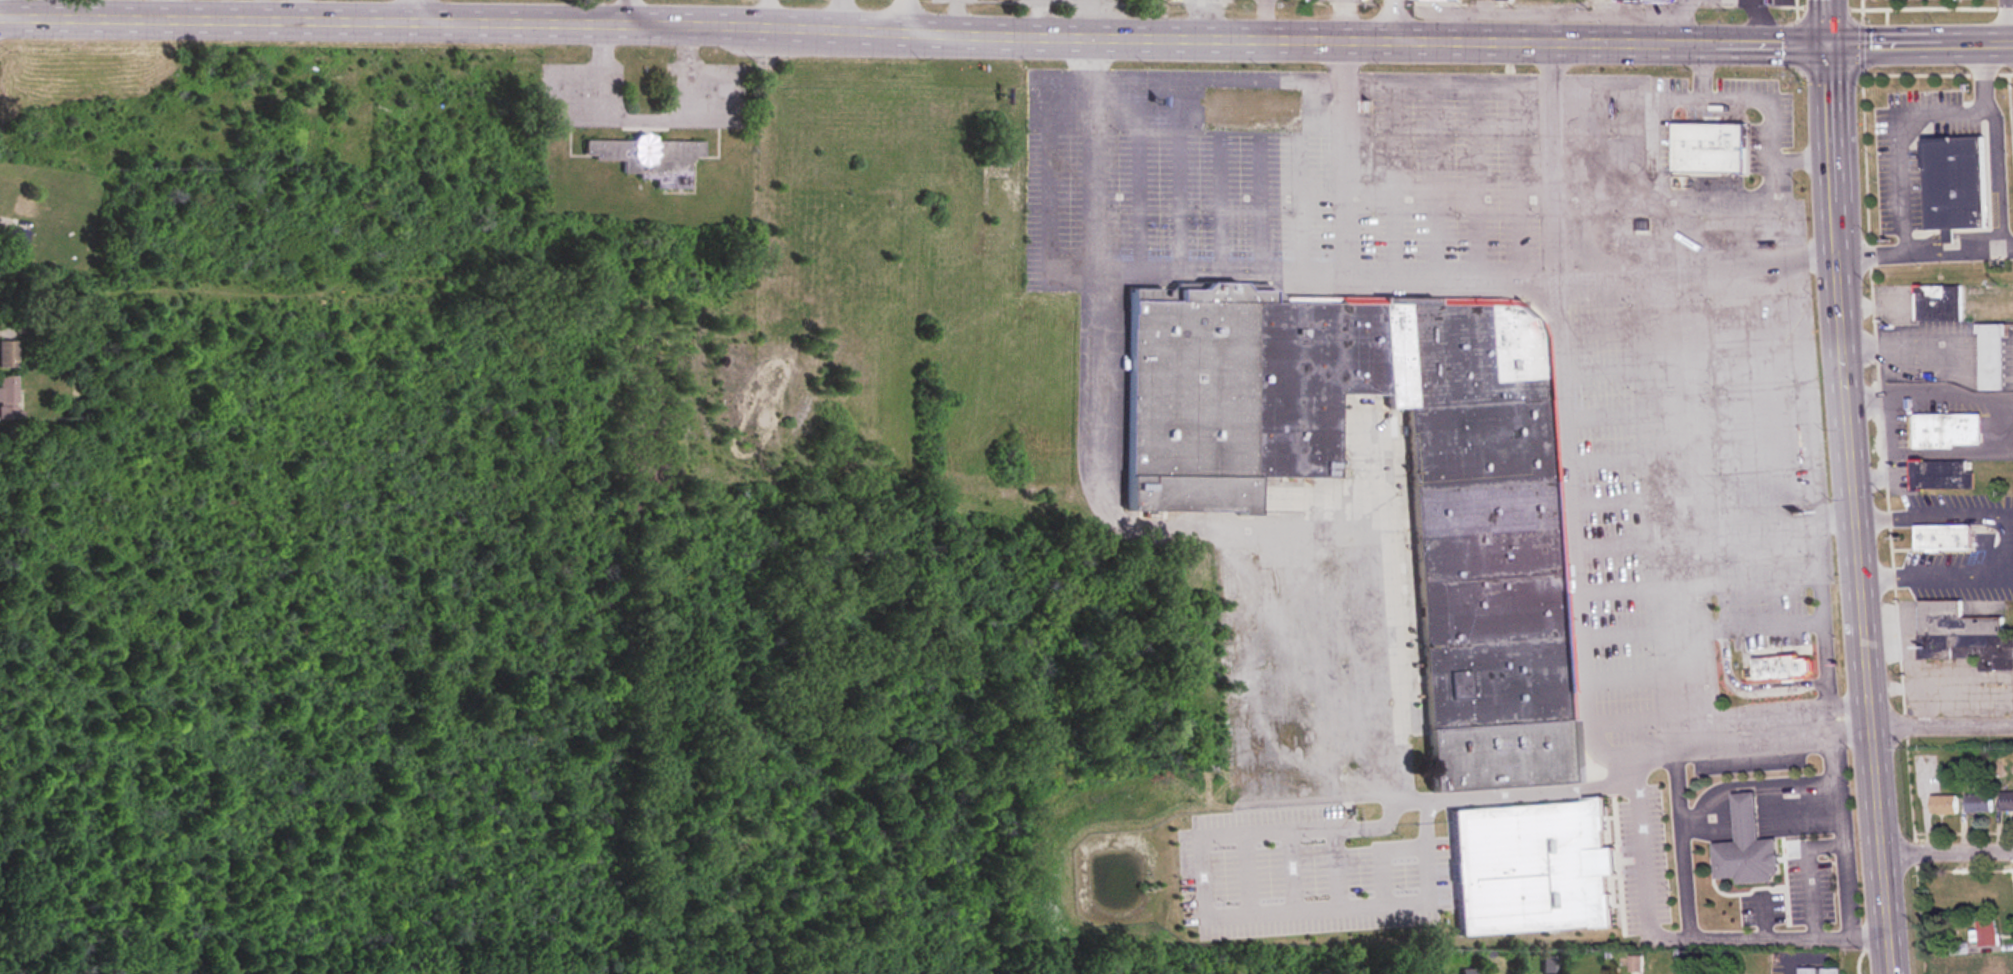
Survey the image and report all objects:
building: (1437, 0)
building: (1505, 0)
building: (1644, 1)
road: (419, 11)
road: (626, 15)
road: (913, 21)
road: (1399, 22)
road: (2007, 22)
road: (1831, 23)
road: (773, 36)
road: (1922, 45)
road: (1690, 46)
traffic signals: (1832, 46)
road: (643, 116)
building: (1708, 149)
road: (1997, 150)
road: (1833, 152)
road: (1094, 158)
building: (649, 159)
road: (1348, 160)
road: (1549, 162)
road: (1903, 175)
building: (1955, 183)
building: (20, 242)
road: (1955, 251)
road: (1696, 268)
road: (1302, 275)
building: (1938, 303)
building: (10, 354)
building: (1992, 357)
building: (9, 398)
building: (1947, 430)
road: (1995, 431)
building: (1942, 475)
road: (1853, 491)
road: (1570, 501)
road: (1714, 525)
building: (1943, 538)
road: (2009, 539)
building: (1962, 636)
building: (1489, 649)
building: (1782, 668)
road: (1942, 725)
road: (1725, 736)
road: (1487, 795)
building: (2007, 801)
building: (1979, 803)
building: (1945, 805)
road: (1684, 837)
building: (1746, 848)
road: (1880, 849)
road: (1947, 853)
building: (1530, 867)
building: (1981, 900)
building: (1954, 906)
building: (1988, 934)
road: (1756, 935)
building: (1989, 964)
building: (1819, 970)
building: (1467, 971)

